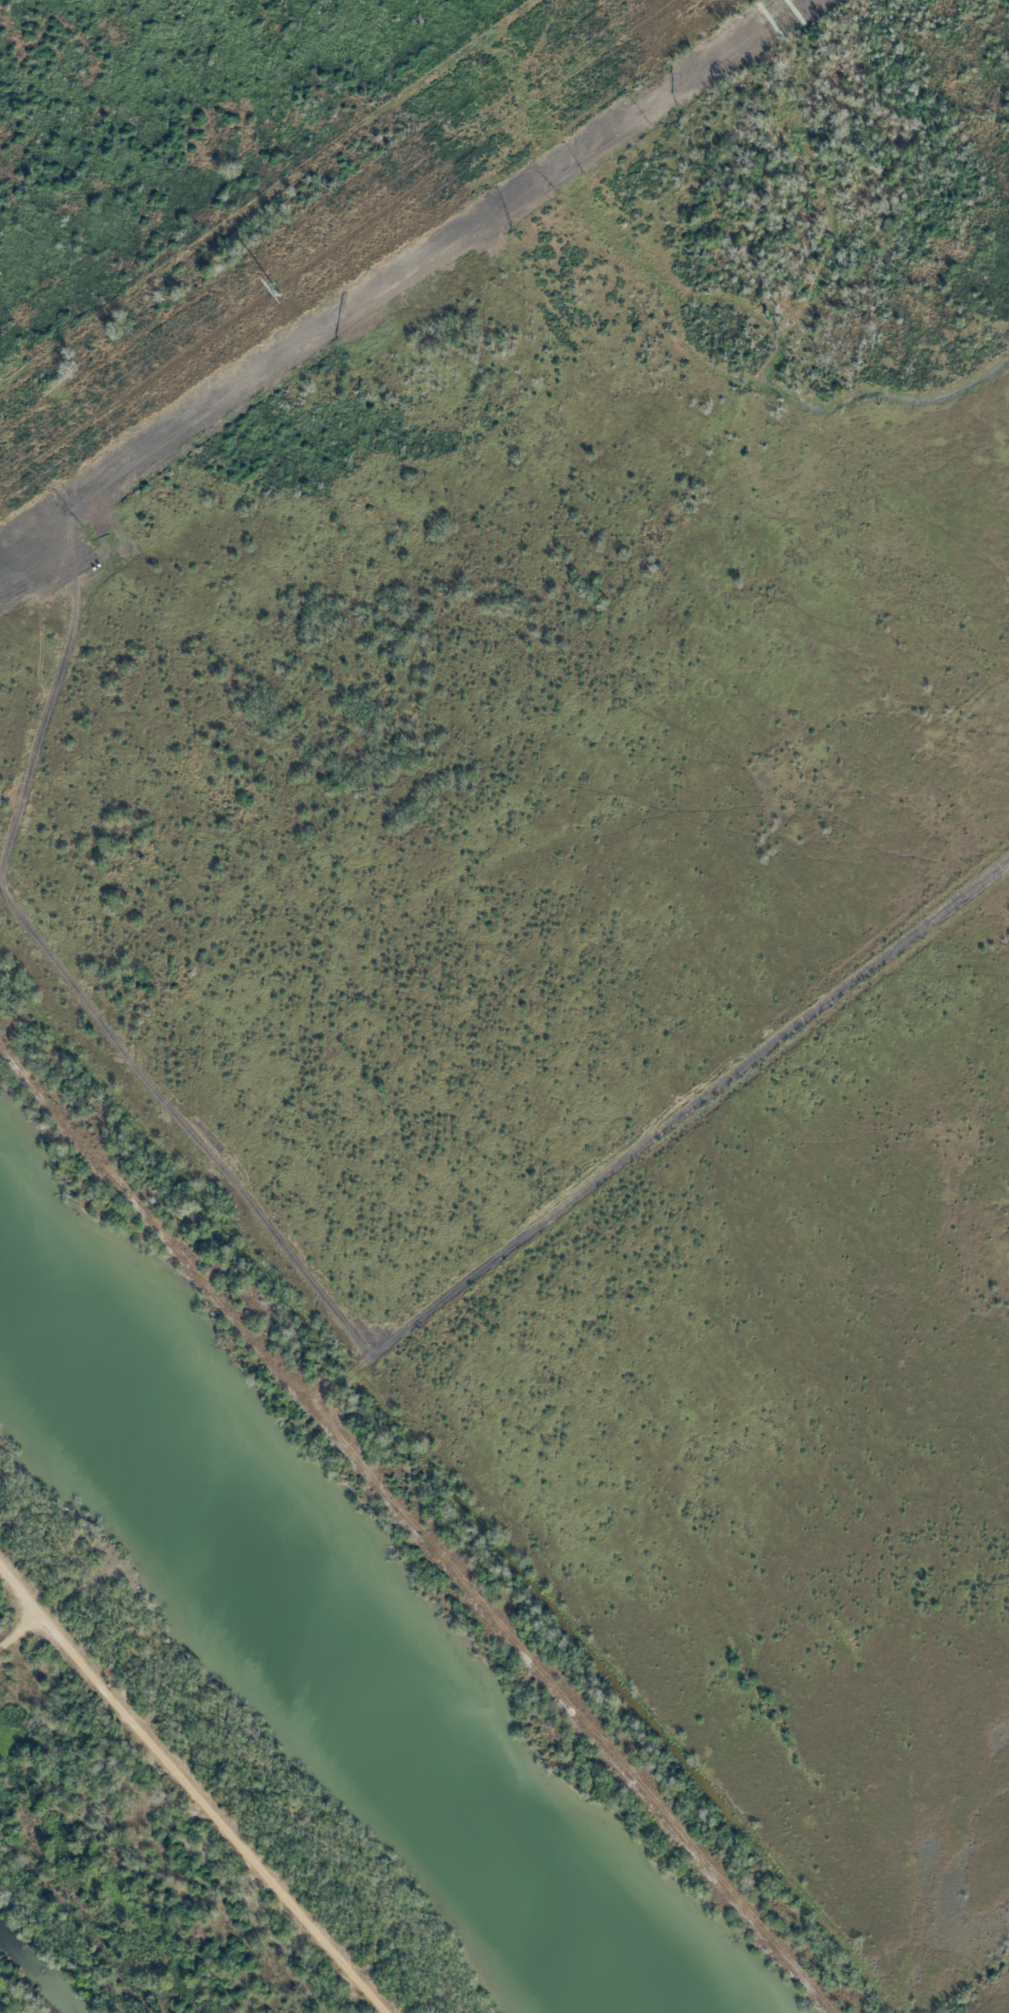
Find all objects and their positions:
power tower: (274, 290)
road: (659, 1128)
road: (22, 1631)
road: (194, 1787)

